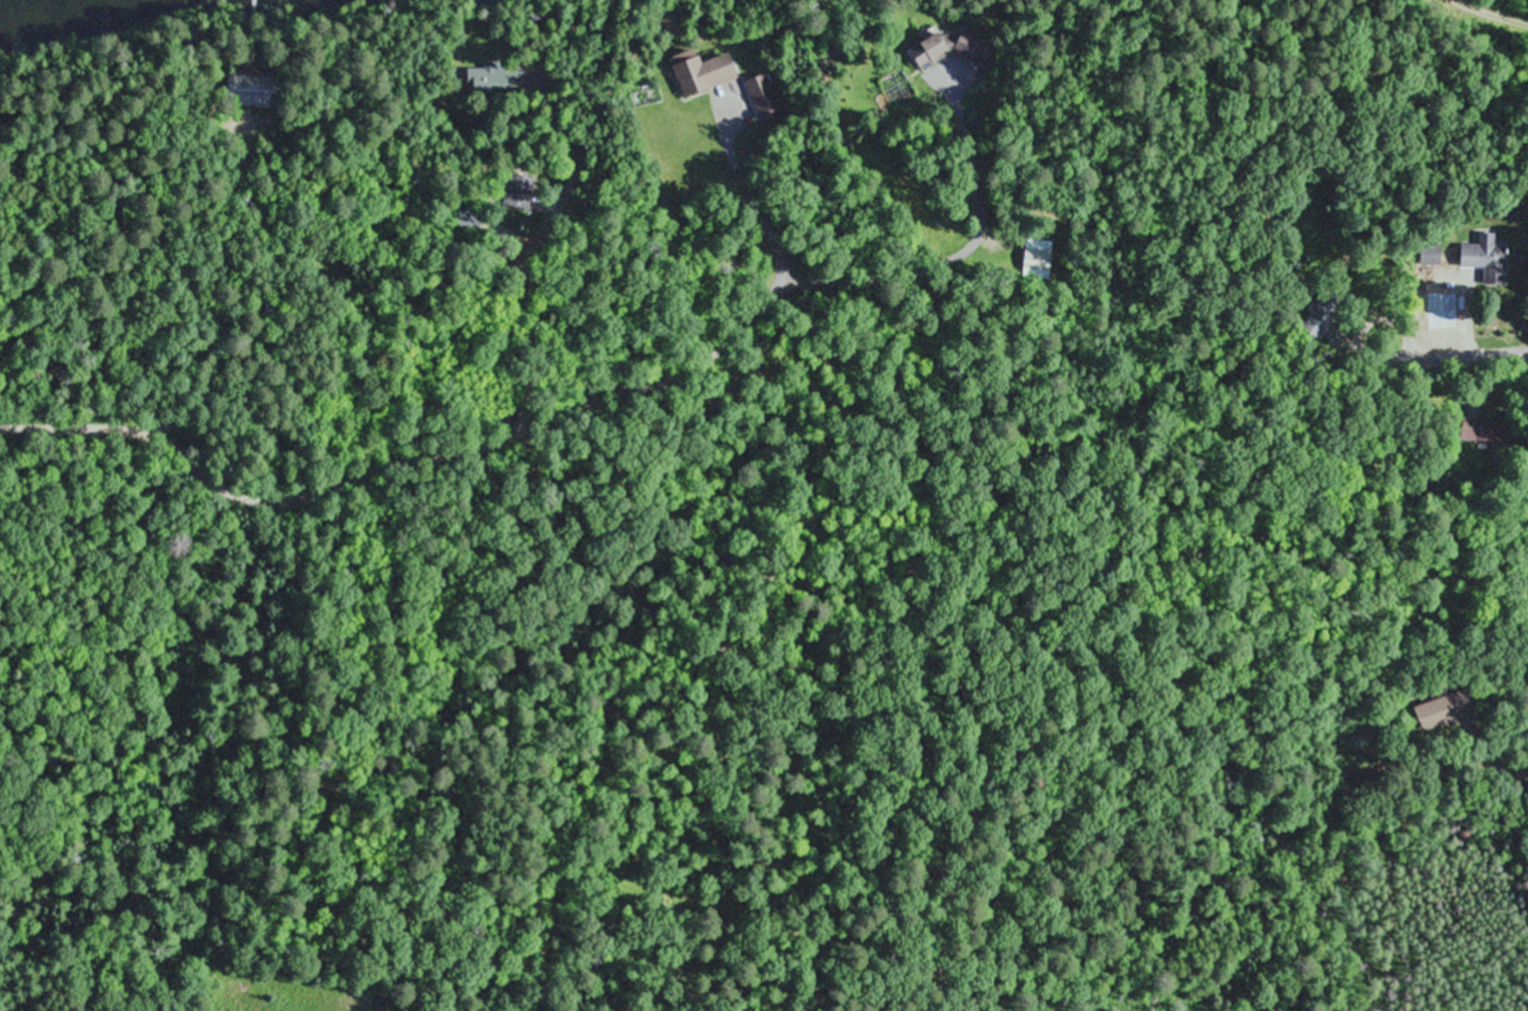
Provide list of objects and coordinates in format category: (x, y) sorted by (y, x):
building: (949, 49)
building: (707, 74)
building: (490, 80)
building: (250, 90)
building: (763, 99)
building: (505, 194)
building: (1487, 258)
building: (1032, 263)
building: (1321, 313)
road: (1467, 352)
building: (1481, 431)
road: (505, 432)
building: (1442, 710)
road: (1522, 756)

